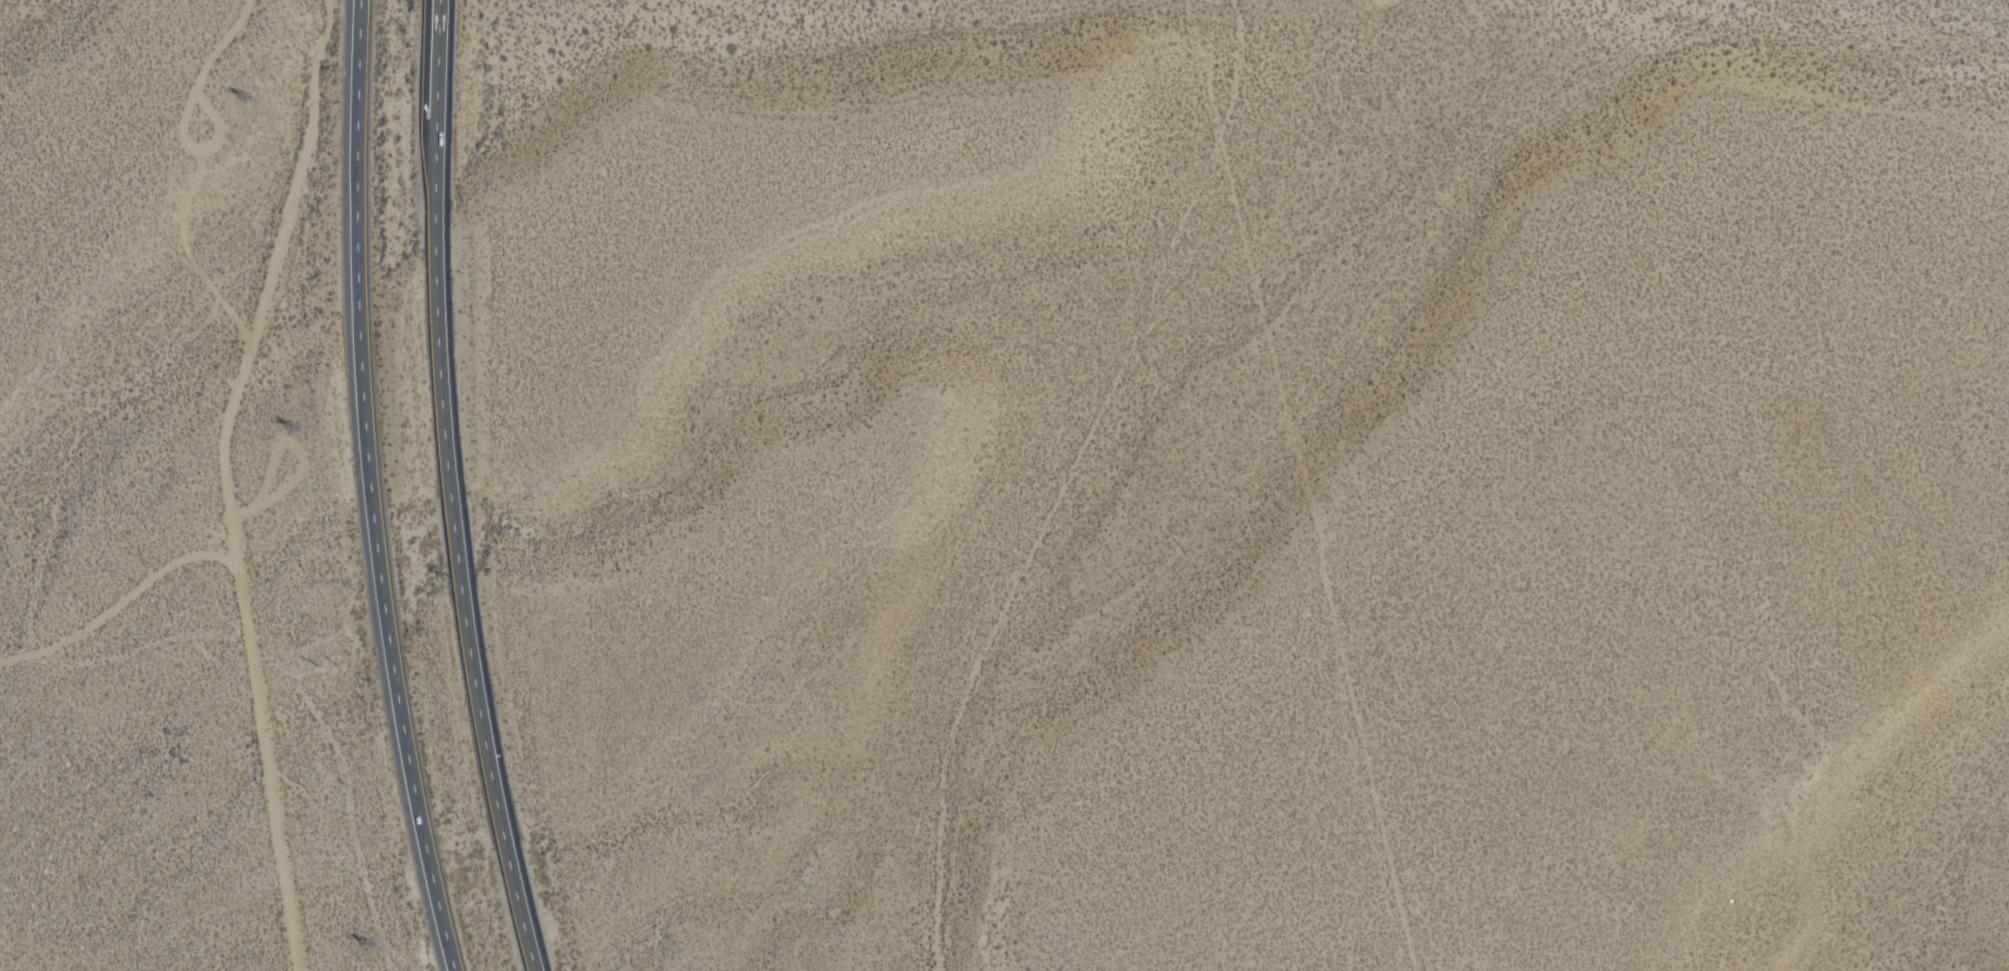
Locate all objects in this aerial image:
road: (435, 45)
power tower: (230, 104)
power tower: (279, 435)
road: (215, 478)
road: (371, 489)
road: (456, 534)
road: (111, 603)
power tower: (360, 948)

